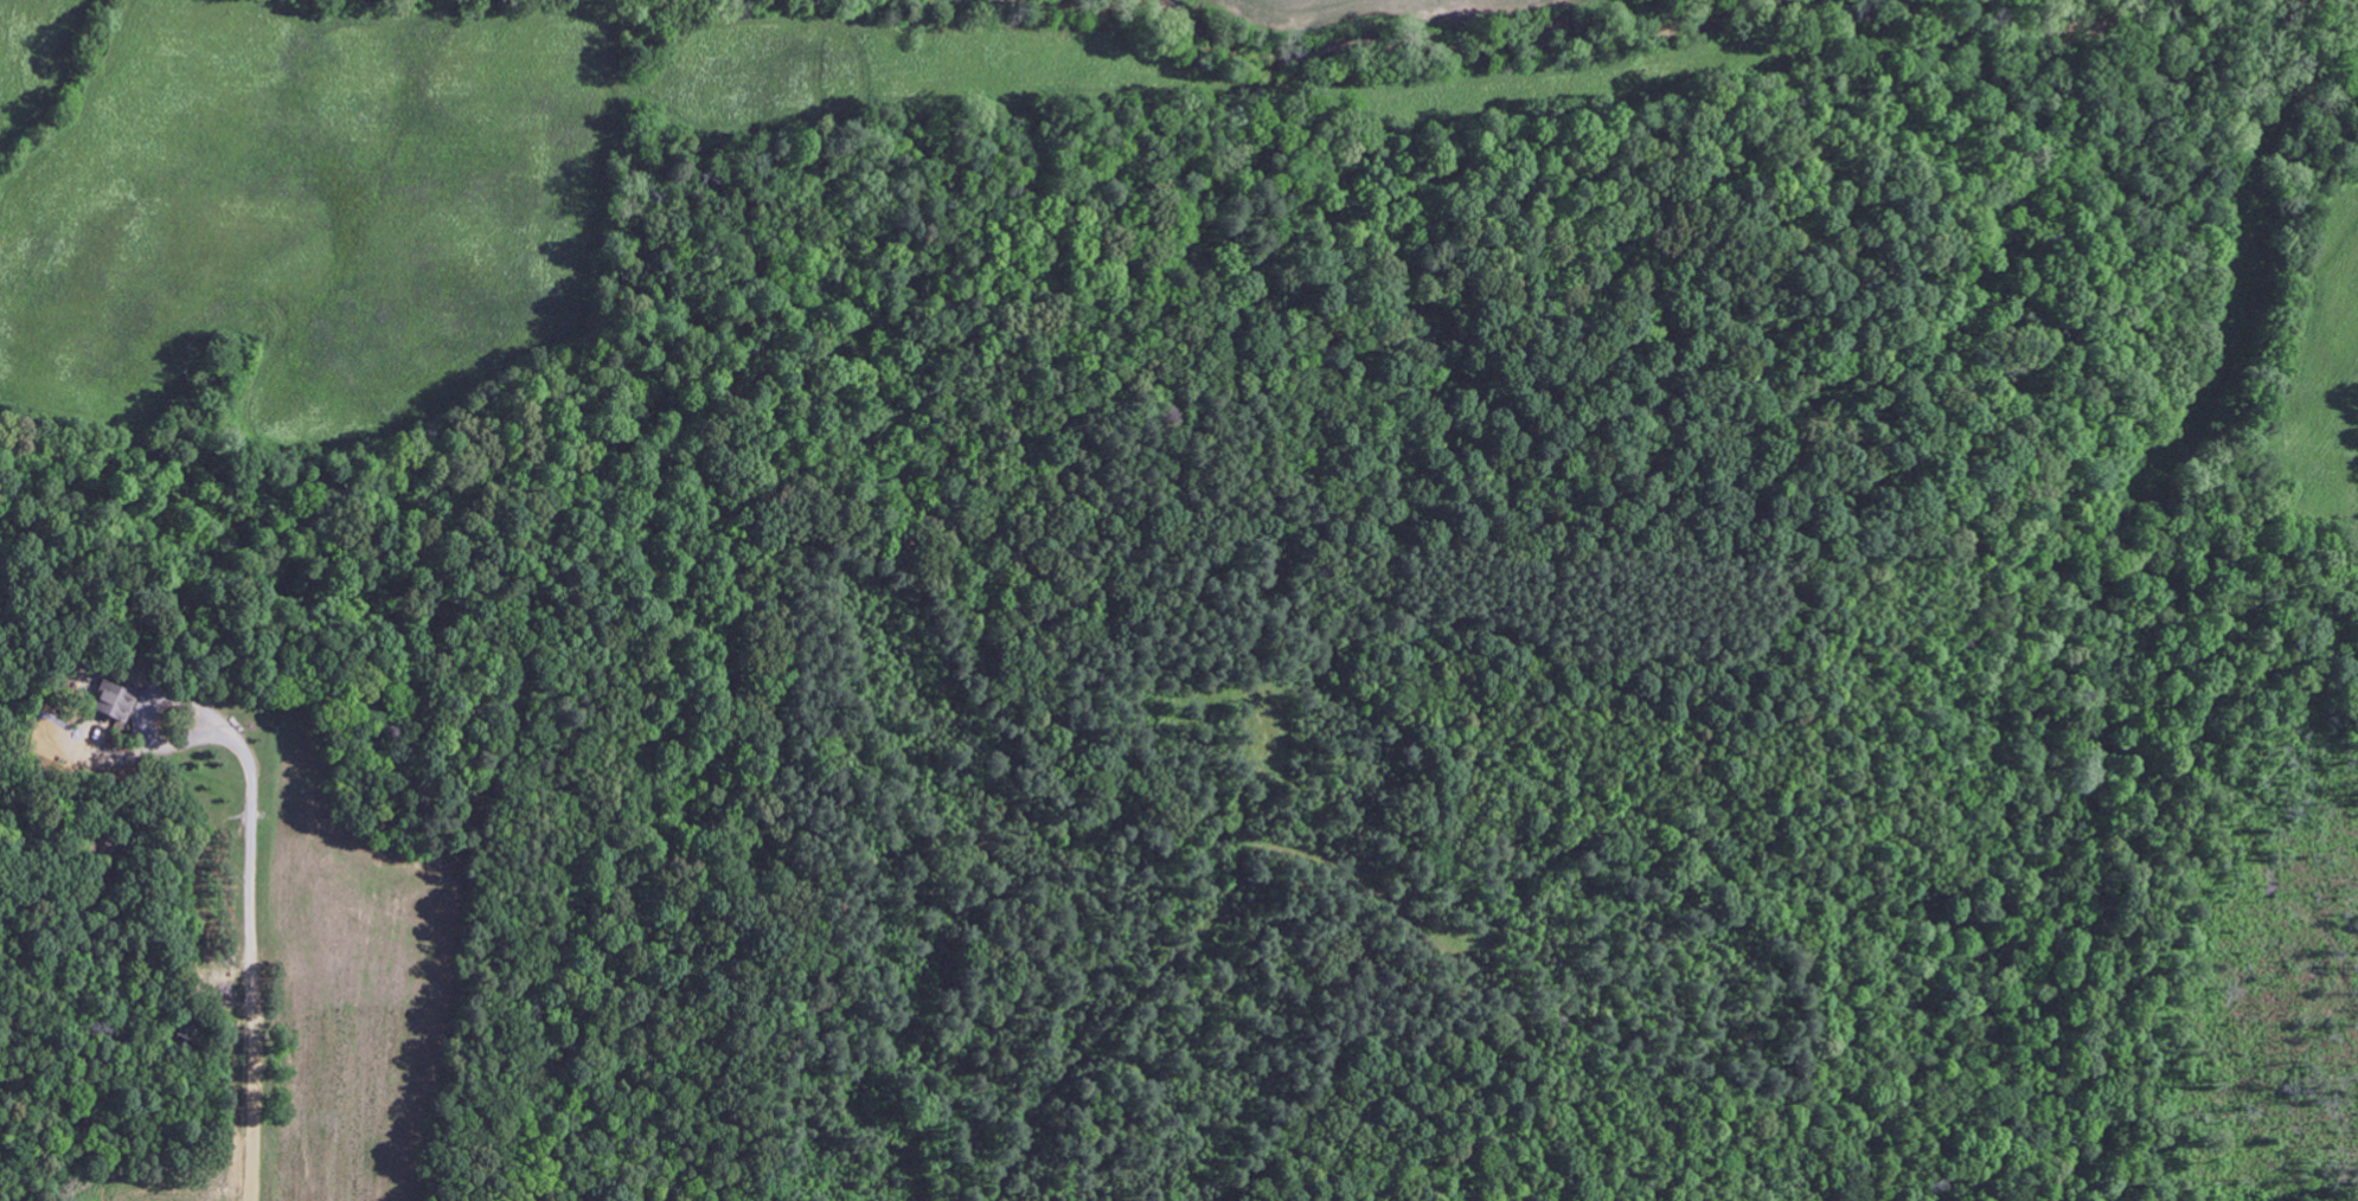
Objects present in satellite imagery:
building: (108, 701)

